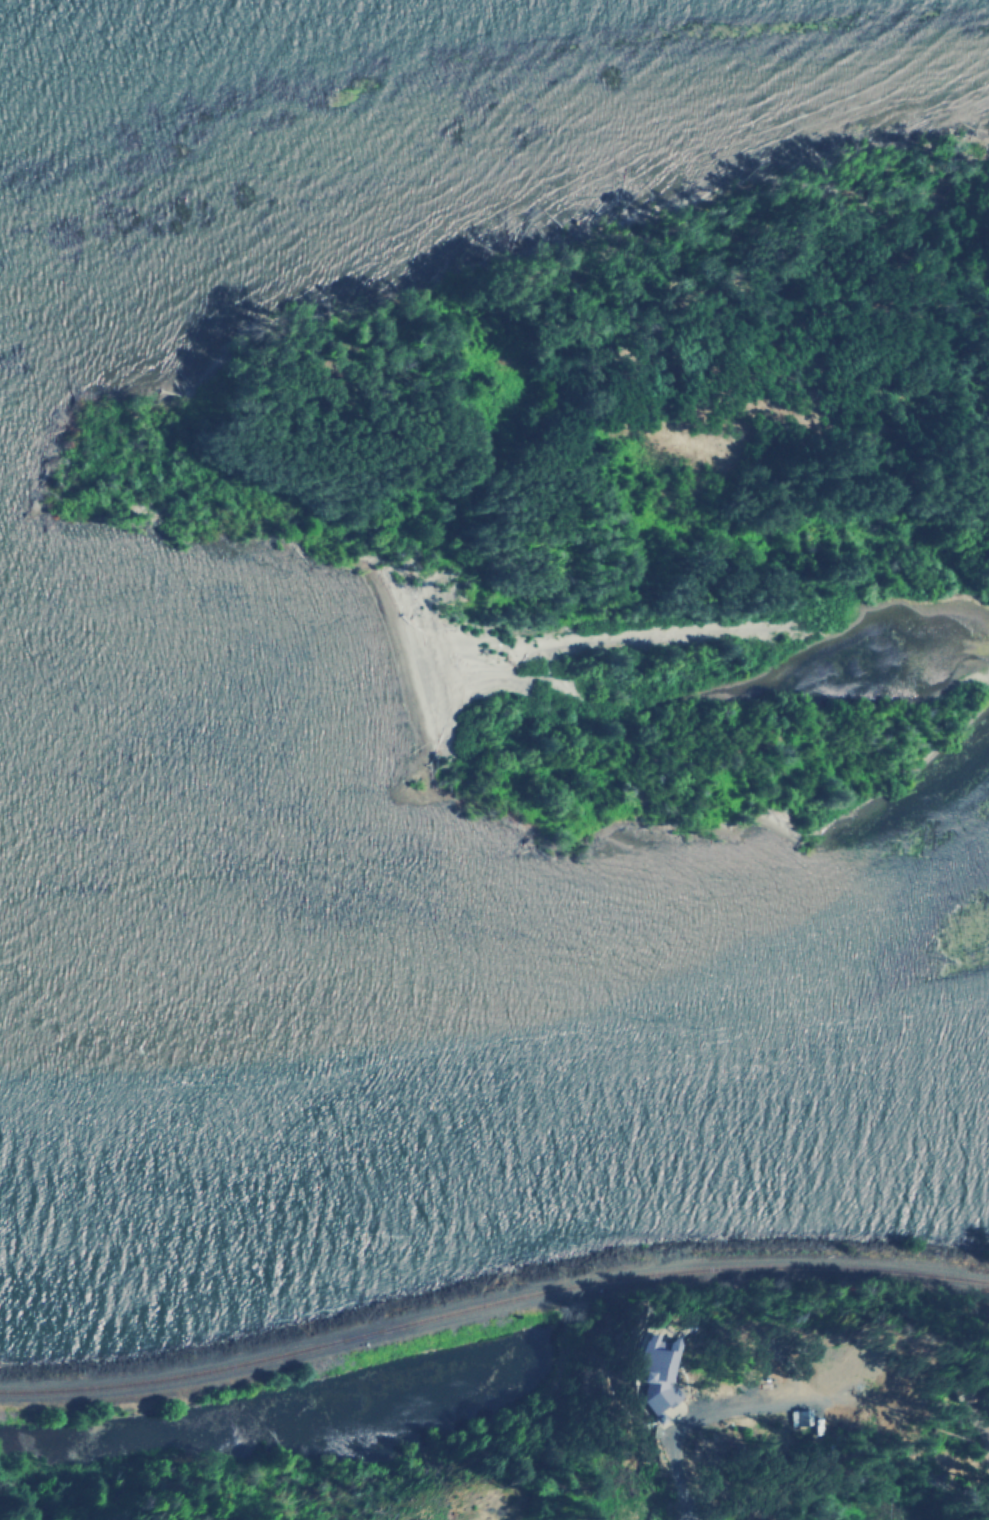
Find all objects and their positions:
railway: (491, 1303)
road: (854, 1397)
park: (957, 1513)

